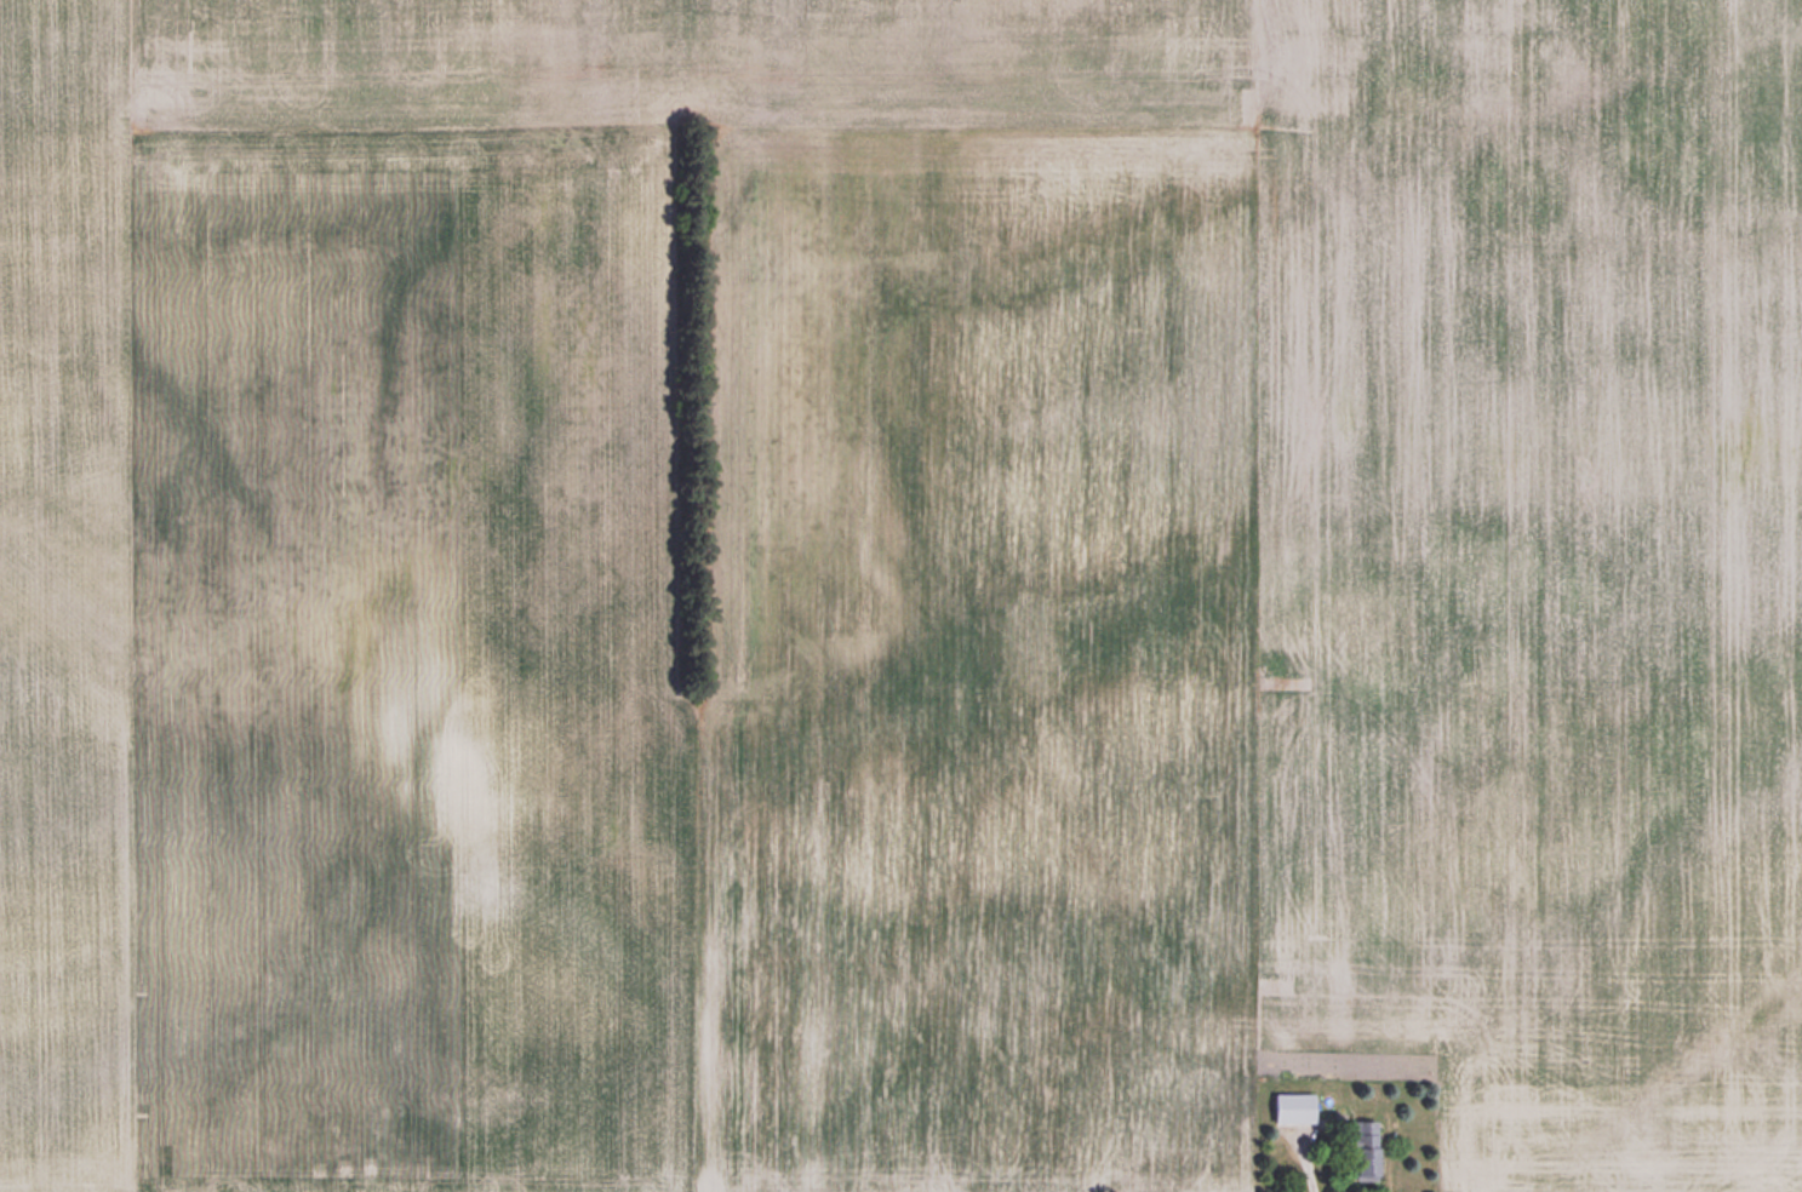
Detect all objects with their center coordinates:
building: (1291, 1107)
building: (1361, 1151)

